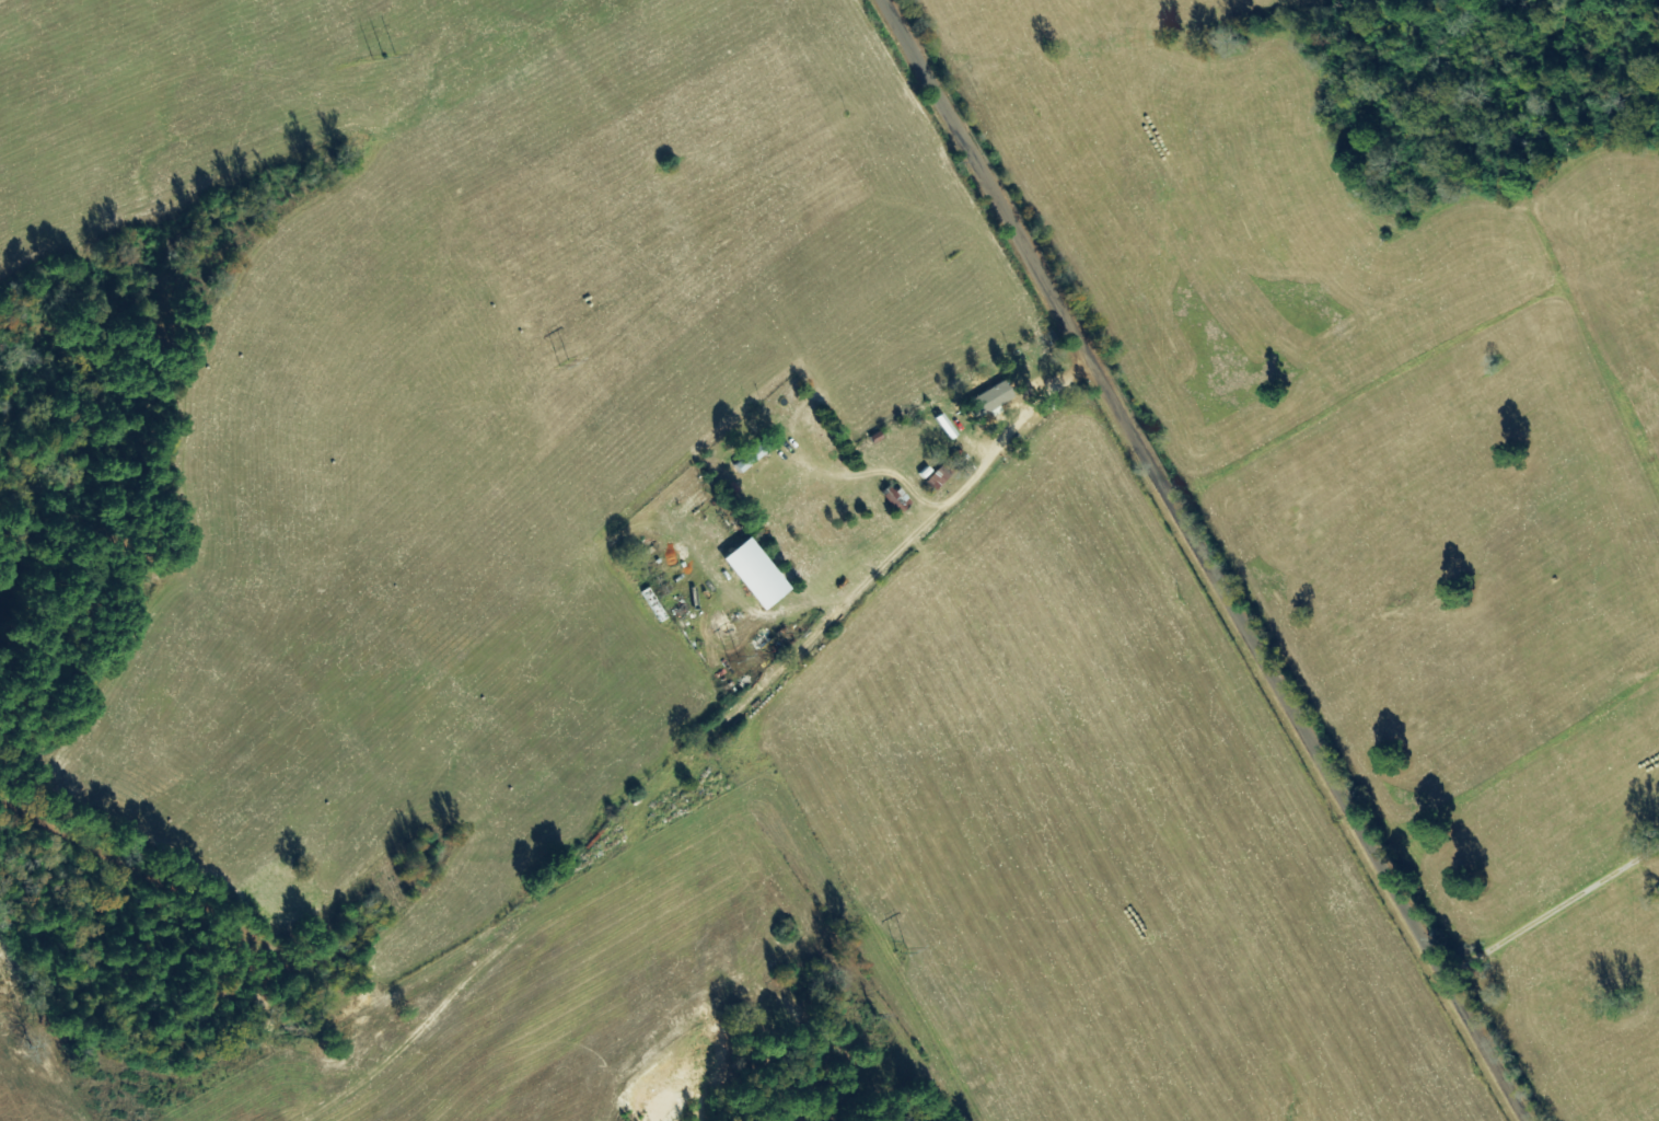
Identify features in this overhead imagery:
power tower: (383, 59)
power tower: (562, 362)
building: (989, 400)
building: (945, 427)
building: (937, 481)
road: (1206, 559)
building: (755, 575)
power tower: (732, 658)
power tower: (902, 948)

